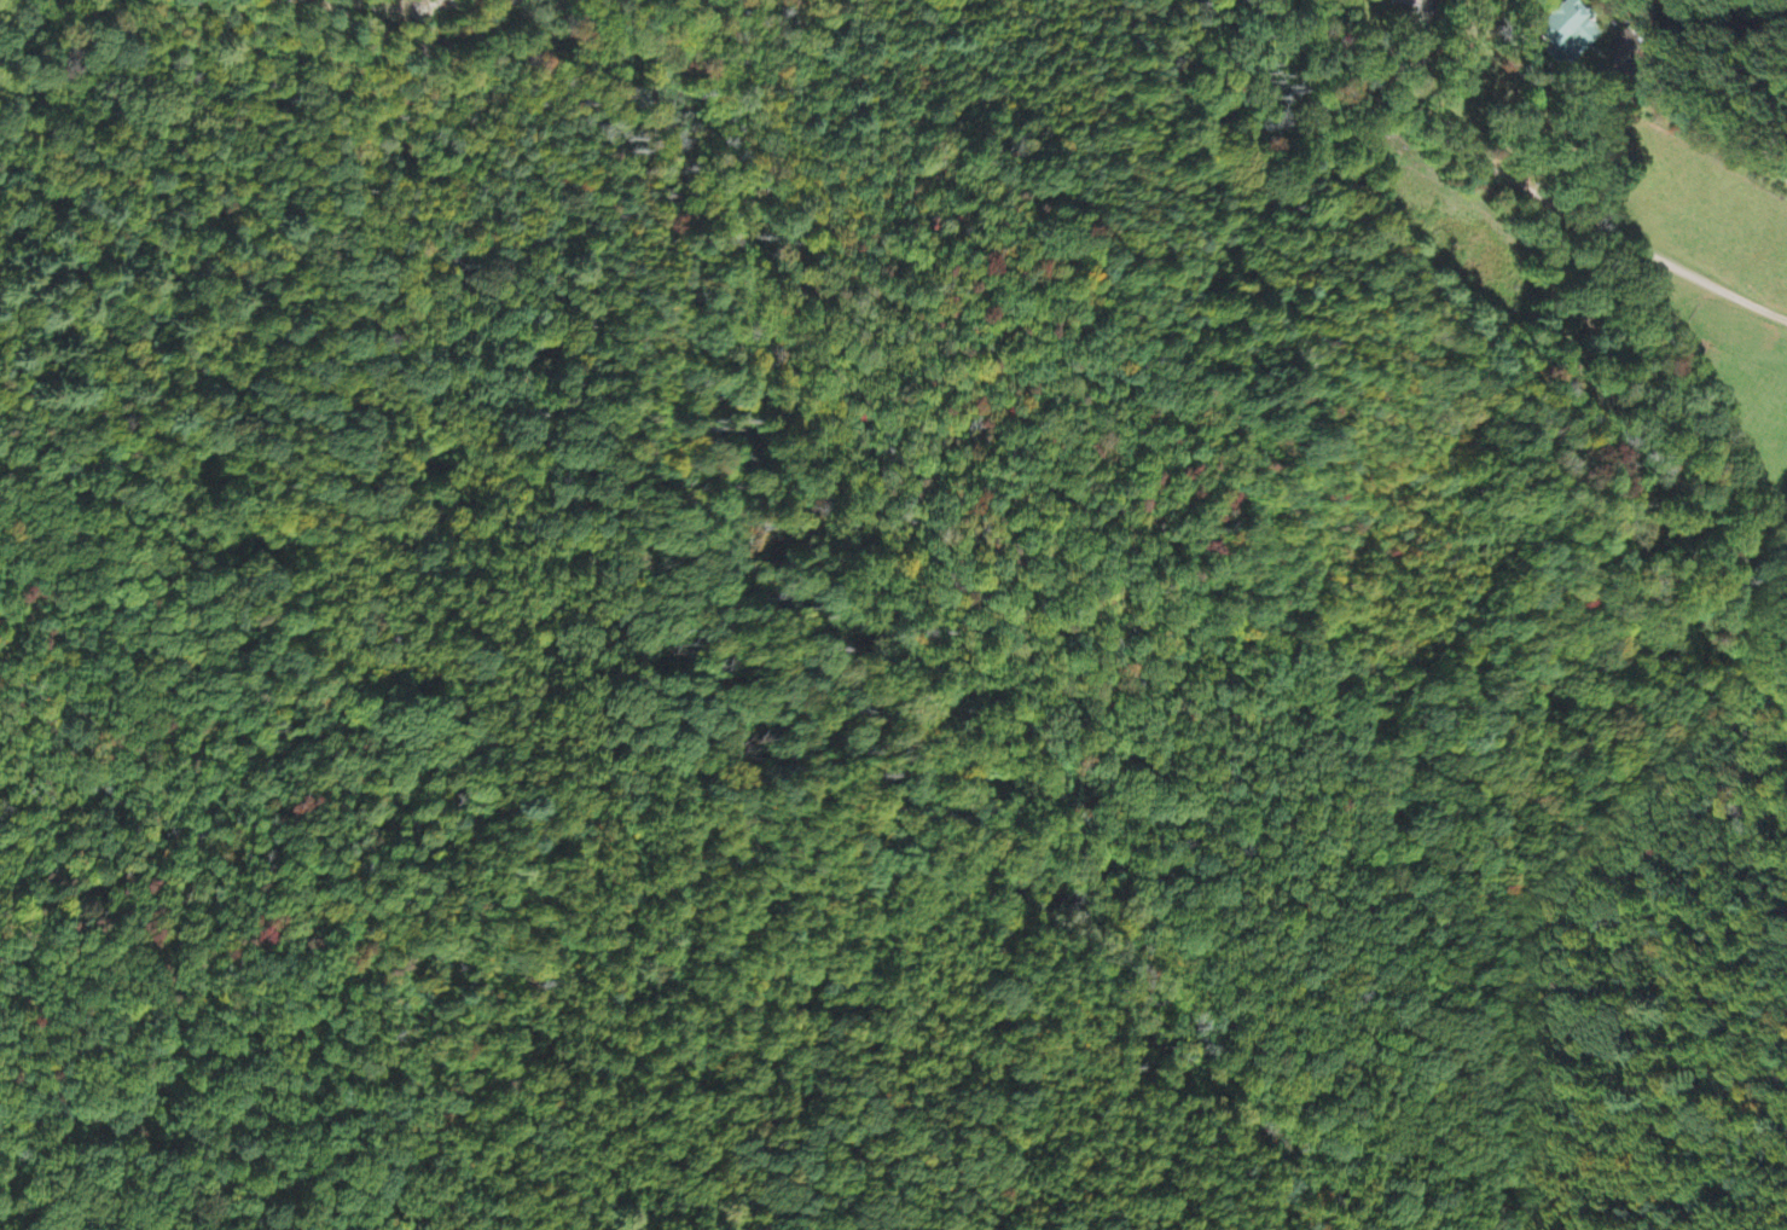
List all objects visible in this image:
building: (1414, 7)
road: (428, 16)
building: (1577, 33)
road: (1740, 91)
road: (1543, 159)
dam: (1490, 213)
dam: (1431, 280)

